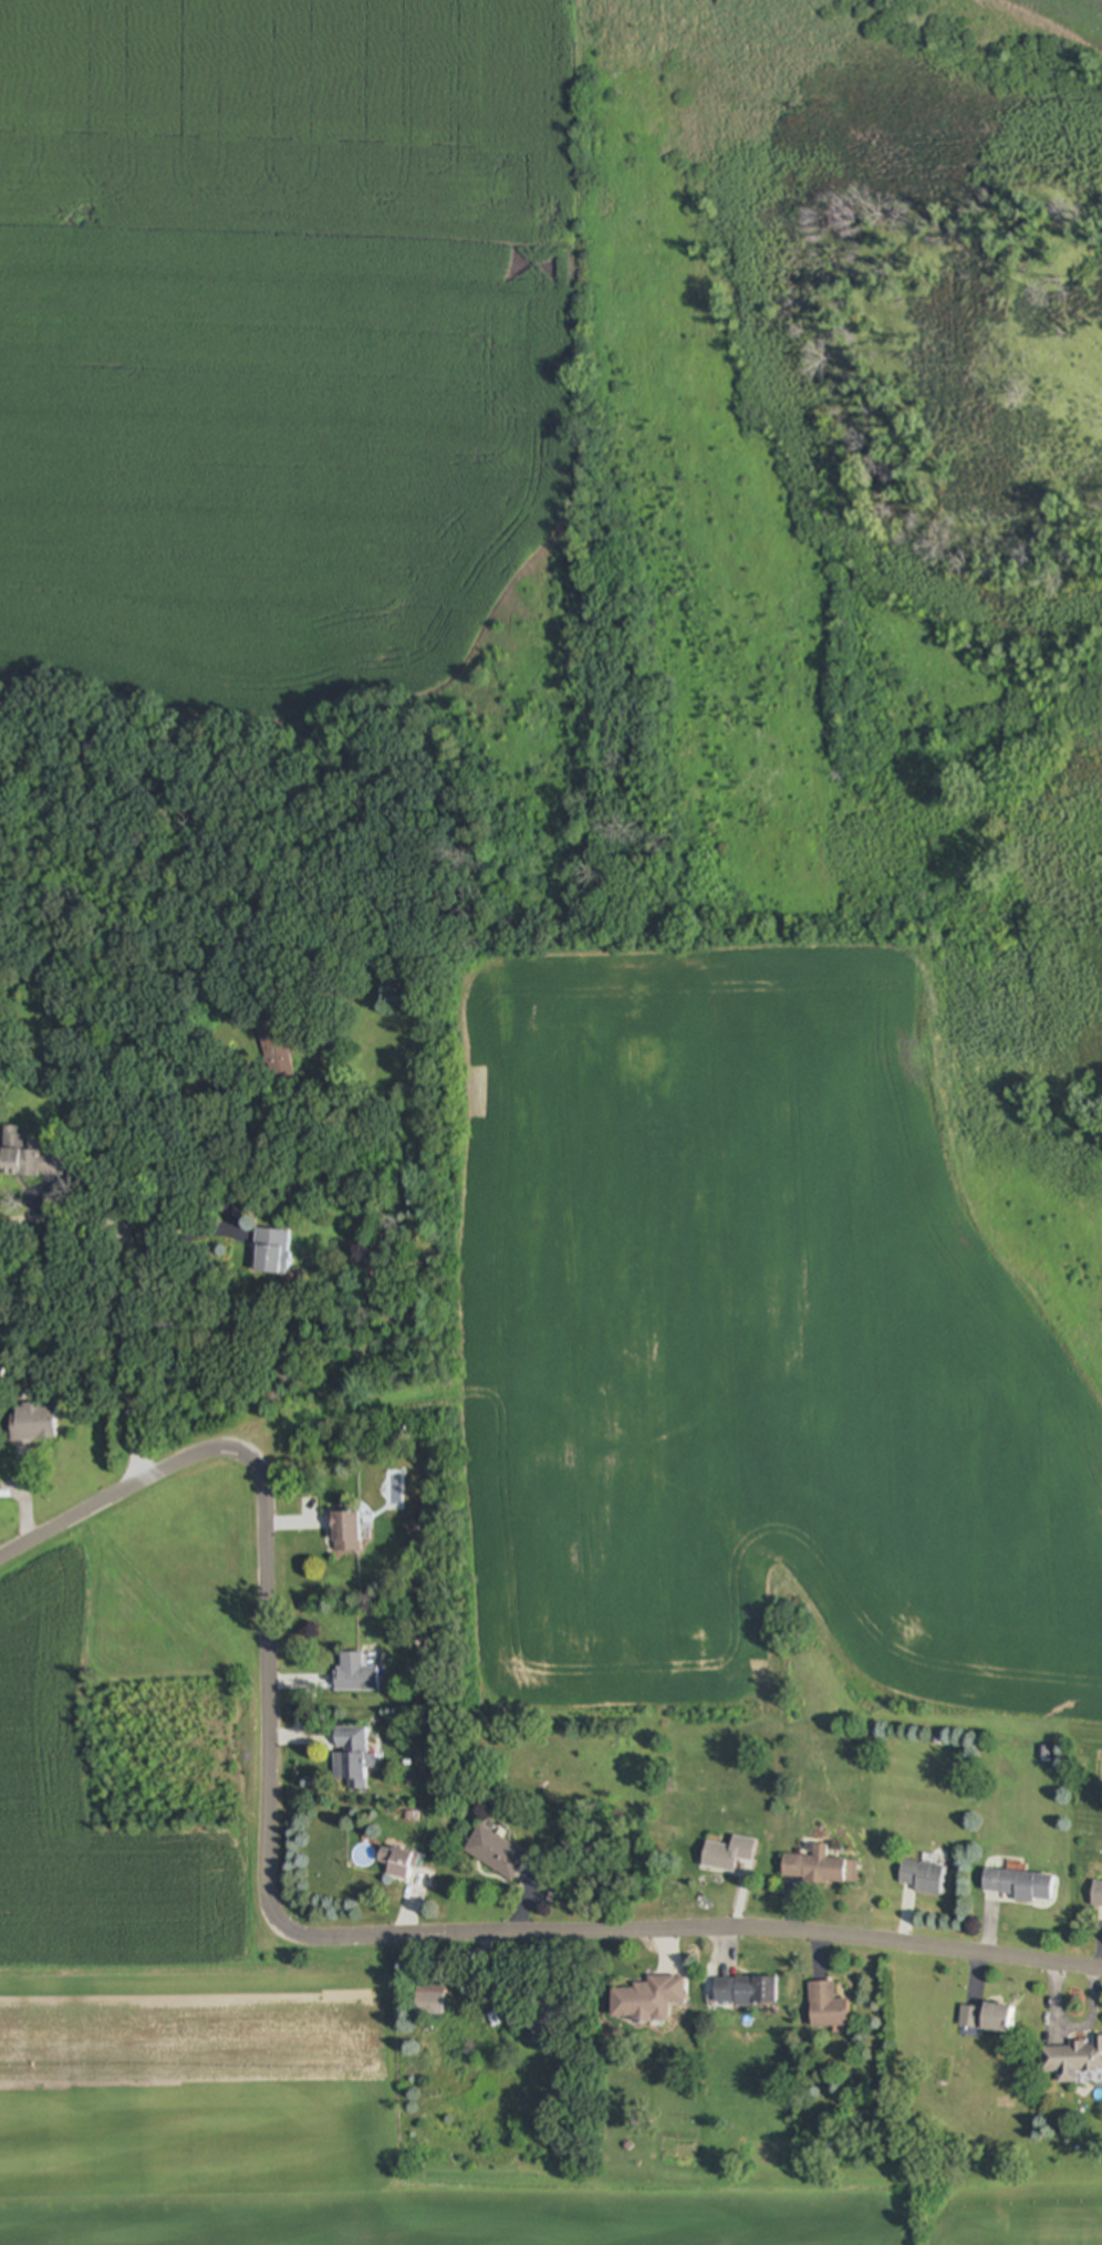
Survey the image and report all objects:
building: (275, 1052)
road: (155, 1122)
building: (28, 1160)
building: (271, 1254)
road: (124, 1297)
building: (32, 1423)
building: (345, 1532)
building: (355, 1674)
building: (351, 1757)
building: (497, 1852)
building: (729, 1854)
building: (396, 1862)
building: (820, 1869)
building: (922, 1878)
building: (1018, 1885)
building: (1096, 1894)
road: (313, 1936)
building: (745, 1991)
building: (647, 1999)
building: (428, 2005)
building: (826, 2007)
building: (986, 2018)
building: (1073, 2061)

